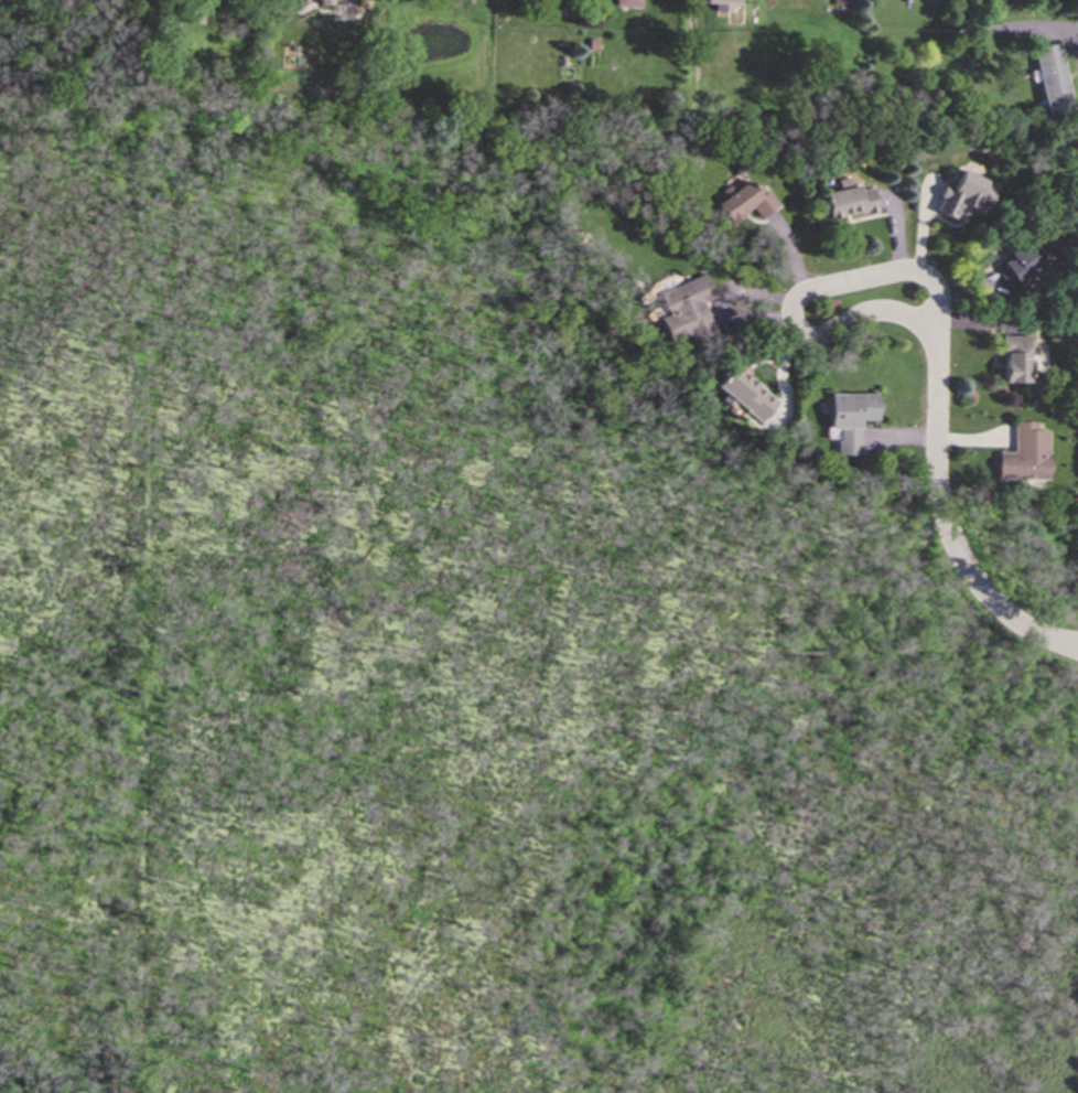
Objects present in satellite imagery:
building: (325, 1)
building: (841, 1)
building: (627, 3)
building: (720, 3)
road: (998, 26)
building: (1053, 77)
building: (966, 194)
building: (849, 200)
building: (745, 202)
building: (1017, 267)
road: (826, 289)
building: (684, 310)
building: (1015, 358)
building: (743, 393)
building: (850, 418)
building: (1024, 453)
road: (946, 523)

